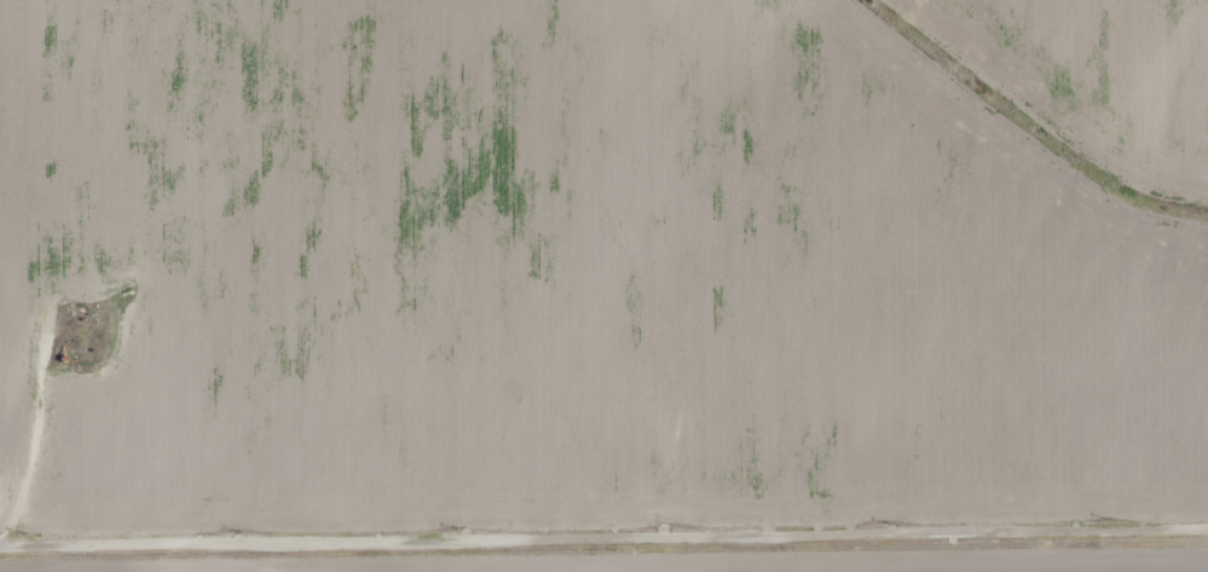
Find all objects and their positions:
road: (603, 530)

